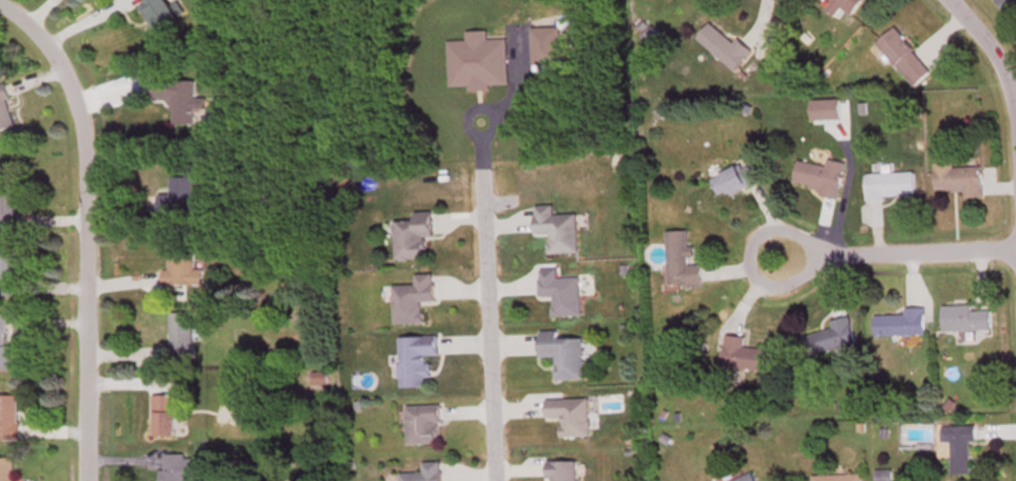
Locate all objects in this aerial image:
building: (842, 7)
building: (1008, 7)
road: (35, 11)
building: (159, 14)
road: (77, 19)
building: (726, 49)
road: (995, 58)
building: (905, 59)
building: (180, 100)
building: (6, 113)
building: (955, 173)
building: (816, 175)
building: (734, 176)
building: (888, 182)
building: (176, 195)
building: (7, 201)
building: (556, 227)
road: (82, 229)
building: (411, 234)
road: (895, 247)
building: (680, 259)
building: (7, 268)
building: (180, 268)
building: (560, 290)
building: (411, 297)
building: (964, 316)
building: (900, 320)
road: (488, 325)
building: (179, 333)
building: (828, 334)
building: (3, 339)
building: (562, 352)
building: (743, 353)
building: (414, 357)
building: (162, 413)
building: (569, 413)
building: (8, 416)
building: (422, 422)
building: (958, 444)
building: (176, 466)
building: (7, 469)
building: (561, 470)
building: (423, 472)
building: (835, 476)
building: (743, 477)

